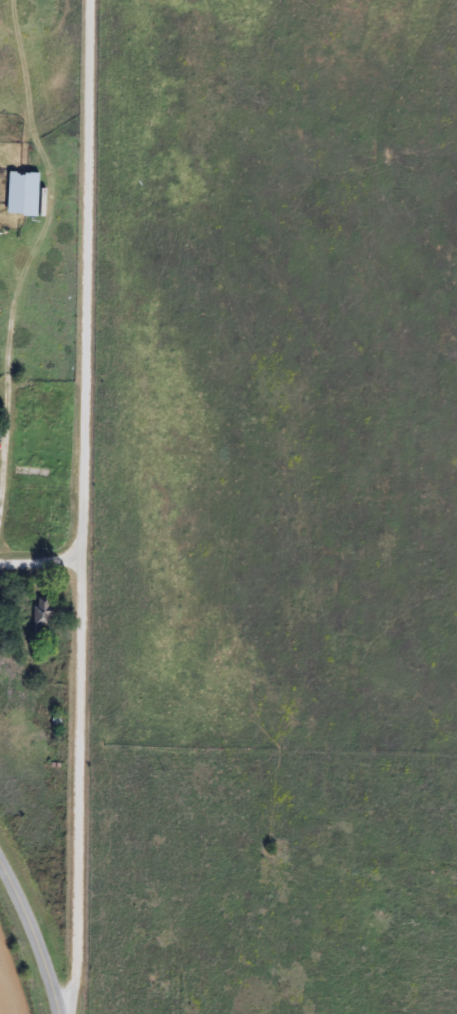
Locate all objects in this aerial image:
building: (21, 193)
road: (91, 276)
road: (43, 553)
building: (41, 614)
road: (83, 783)
road: (36, 938)

